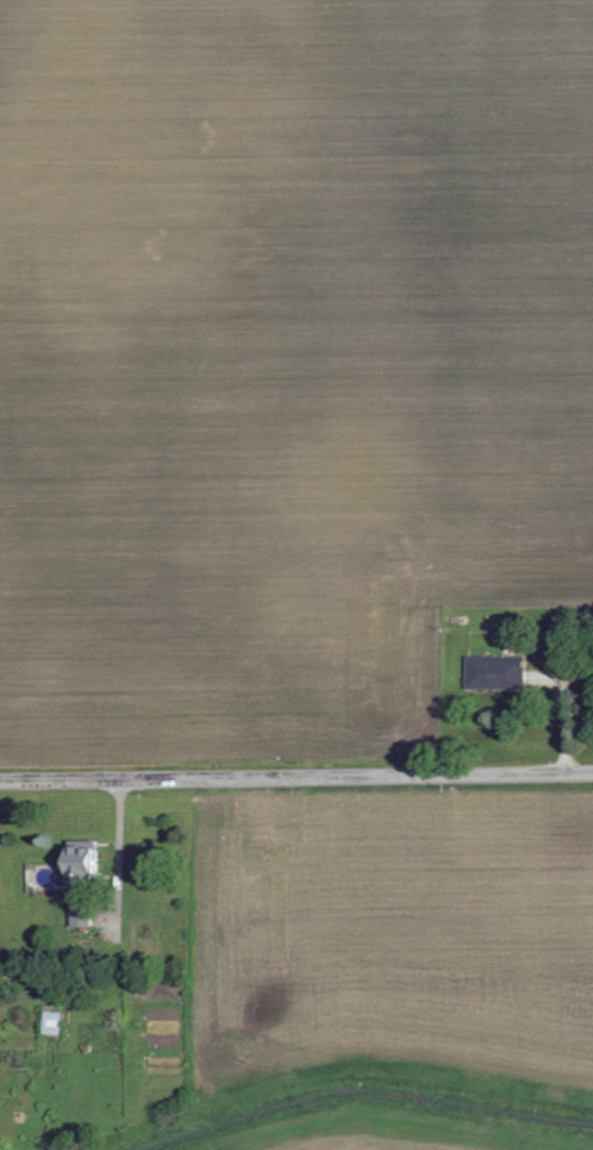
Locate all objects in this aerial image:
building: (492, 671)
road: (296, 775)
building: (77, 859)
building: (76, 918)
crop: (392, 934)
crop: (389, 1131)

